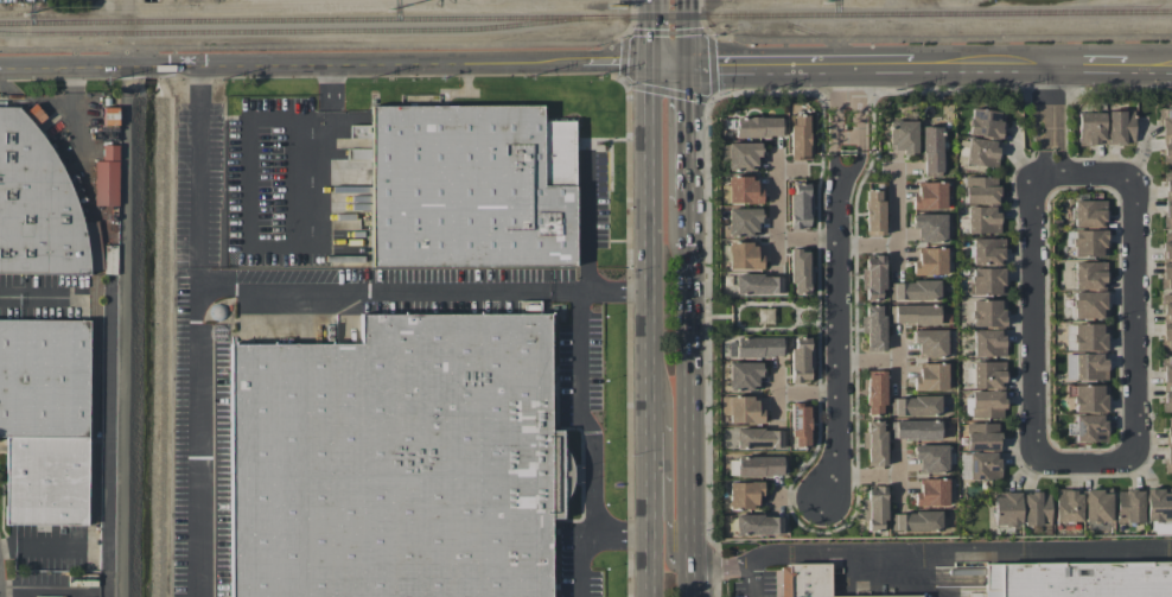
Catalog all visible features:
power tower: (824, 1)
power tower: (24, 14)
railway: (586, 15)
road: (654, 28)
railway: (302, 30)
road: (689, 30)
road: (667, 31)
road: (937, 37)
road: (316, 45)
road: (134, 56)
traffic signals: (654, 58)
road: (429, 59)
traffic signals: (689, 61)
road: (1015, 62)
railway: (5, 87)
road: (676, 90)
road: (860, 106)
building: (34, 114)
road: (1045, 119)
building: (985, 122)
building: (757, 126)
building: (1120, 126)
building: (1090, 128)
road: (690, 131)
building: (1166, 134)
road: (847, 135)
building: (903, 135)
building: (798, 136)
road: (834, 139)
building: (931, 150)
building: (981, 152)
building: (743, 155)
building: (106, 176)
road: (199, 177)
road: (845, 182)
building: (1167, 183)
building: (471, 185)
building: (743, 189)
building: (980, 189)
building: (929, 195)
building: (36, 204)
building: (800, 207)
building: (873, 211)
building: (1088, 212)
building: (1167, 212)
building: (982, 218)
building: (743, 221)
road: (587, 222)
road: (775, 223)
building: (930, 227)
road: (897, 233)
building: (1089, 242)
road: (274, 243)
building: (1167, 244)
building: (987, 250)
building: (743, 255)
building: (929, 261)
building: (800, 269)
road: (1130, 269)
building: (1089, 274)
building: (1166, 274)
building: (873, 277)
building: (987, 280)
building: (757, 284)
road: (272, 290)
building: (913, 290)
road: (42, 296)
railway: (94, 296)
building: (1089, 304)
building: (1166, 306)
building: (988, 312)
building: (915, 313)
building: (873, 326)
road: (654, 328)
building: (1085, 336)
building: (1166, 336)
building: (987, 342)
building: (934, 343)
building: (753, 347)
road: (837, 353)
building: (800, 358)
road: (883, 360)
building: (1084, 366)
road: (1034, 367)
building: (988, 374)
building: (744, 375)
building: (930, 376)
building: (1166, 383)
road: (692, 385)
building: (874, 392)
building: (1089, 398)
building: (987, 404)
building: (915, 405)
building: (740, 409)
building: (45, 419)
building: (798, 425)
building: (1088, 427)
building: (916, 428)
building: (1168, 430)
building: (982, 436)
building: (758, 438)
building: (874, 442)
road: (594, 445)
building: (930, 458)
building: (1167, 459)
building: (396, 461)
building: (757, 465)
building: (979, 465)
road: (875, 477)
building: (930, 491)
building: (744, 494)
road: (662, 502)
building: (1097, 504)
building: (1158, 504)
building: (874, 506)
building: (1066, 506)
building: (1128, 506)
building: (1006, 508)
building: (1036, 508)
building: (915, 521)
building: (757, 525)
road: (624, 531)
road: (39, 547)
road: (961, 550)
road: (721, 565)
road: (751, 578)
building: (1087, 579)
building: (808, 580)
road: (693, 583)
parking lot: (758, 584)

